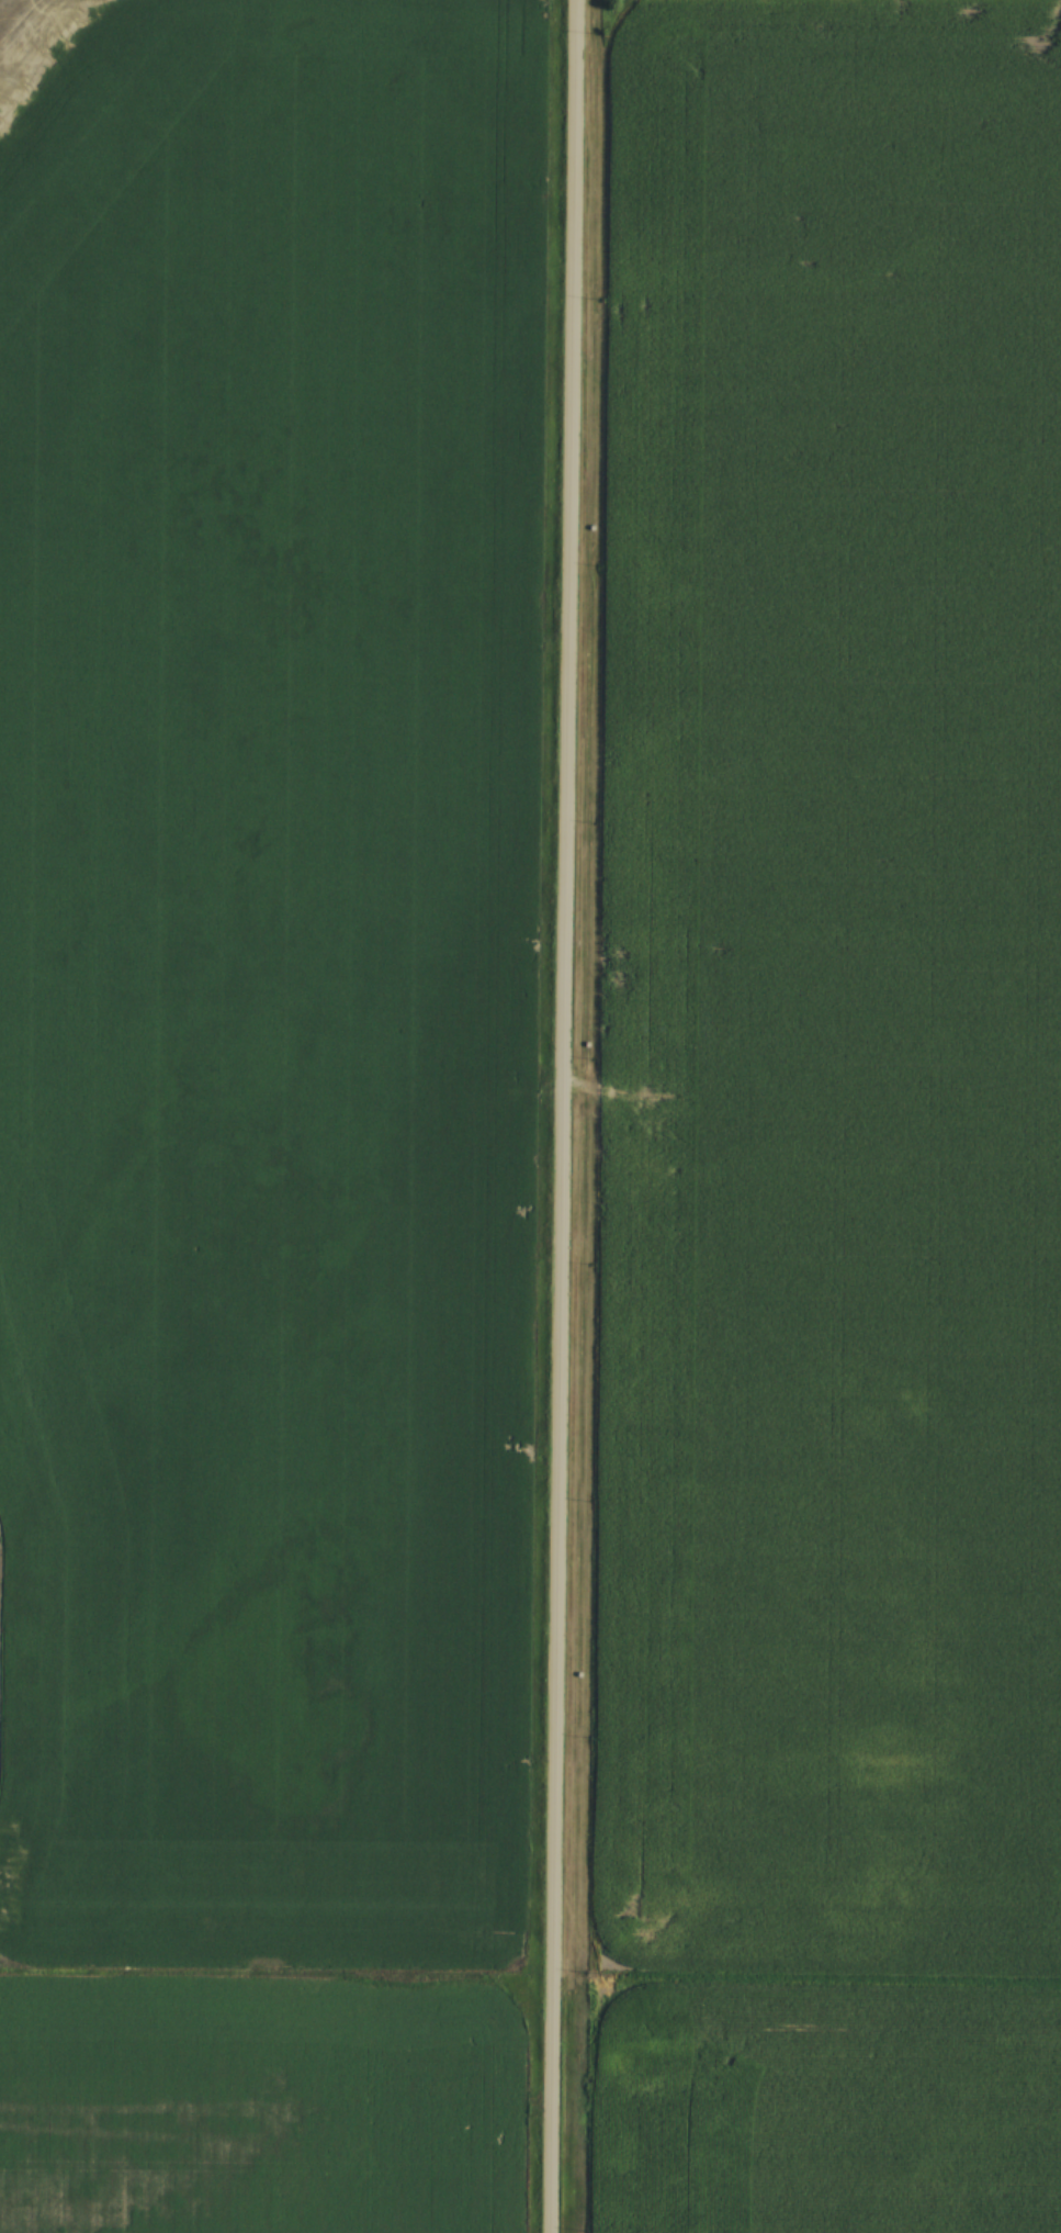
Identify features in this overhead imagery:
road: (562, 1116)

